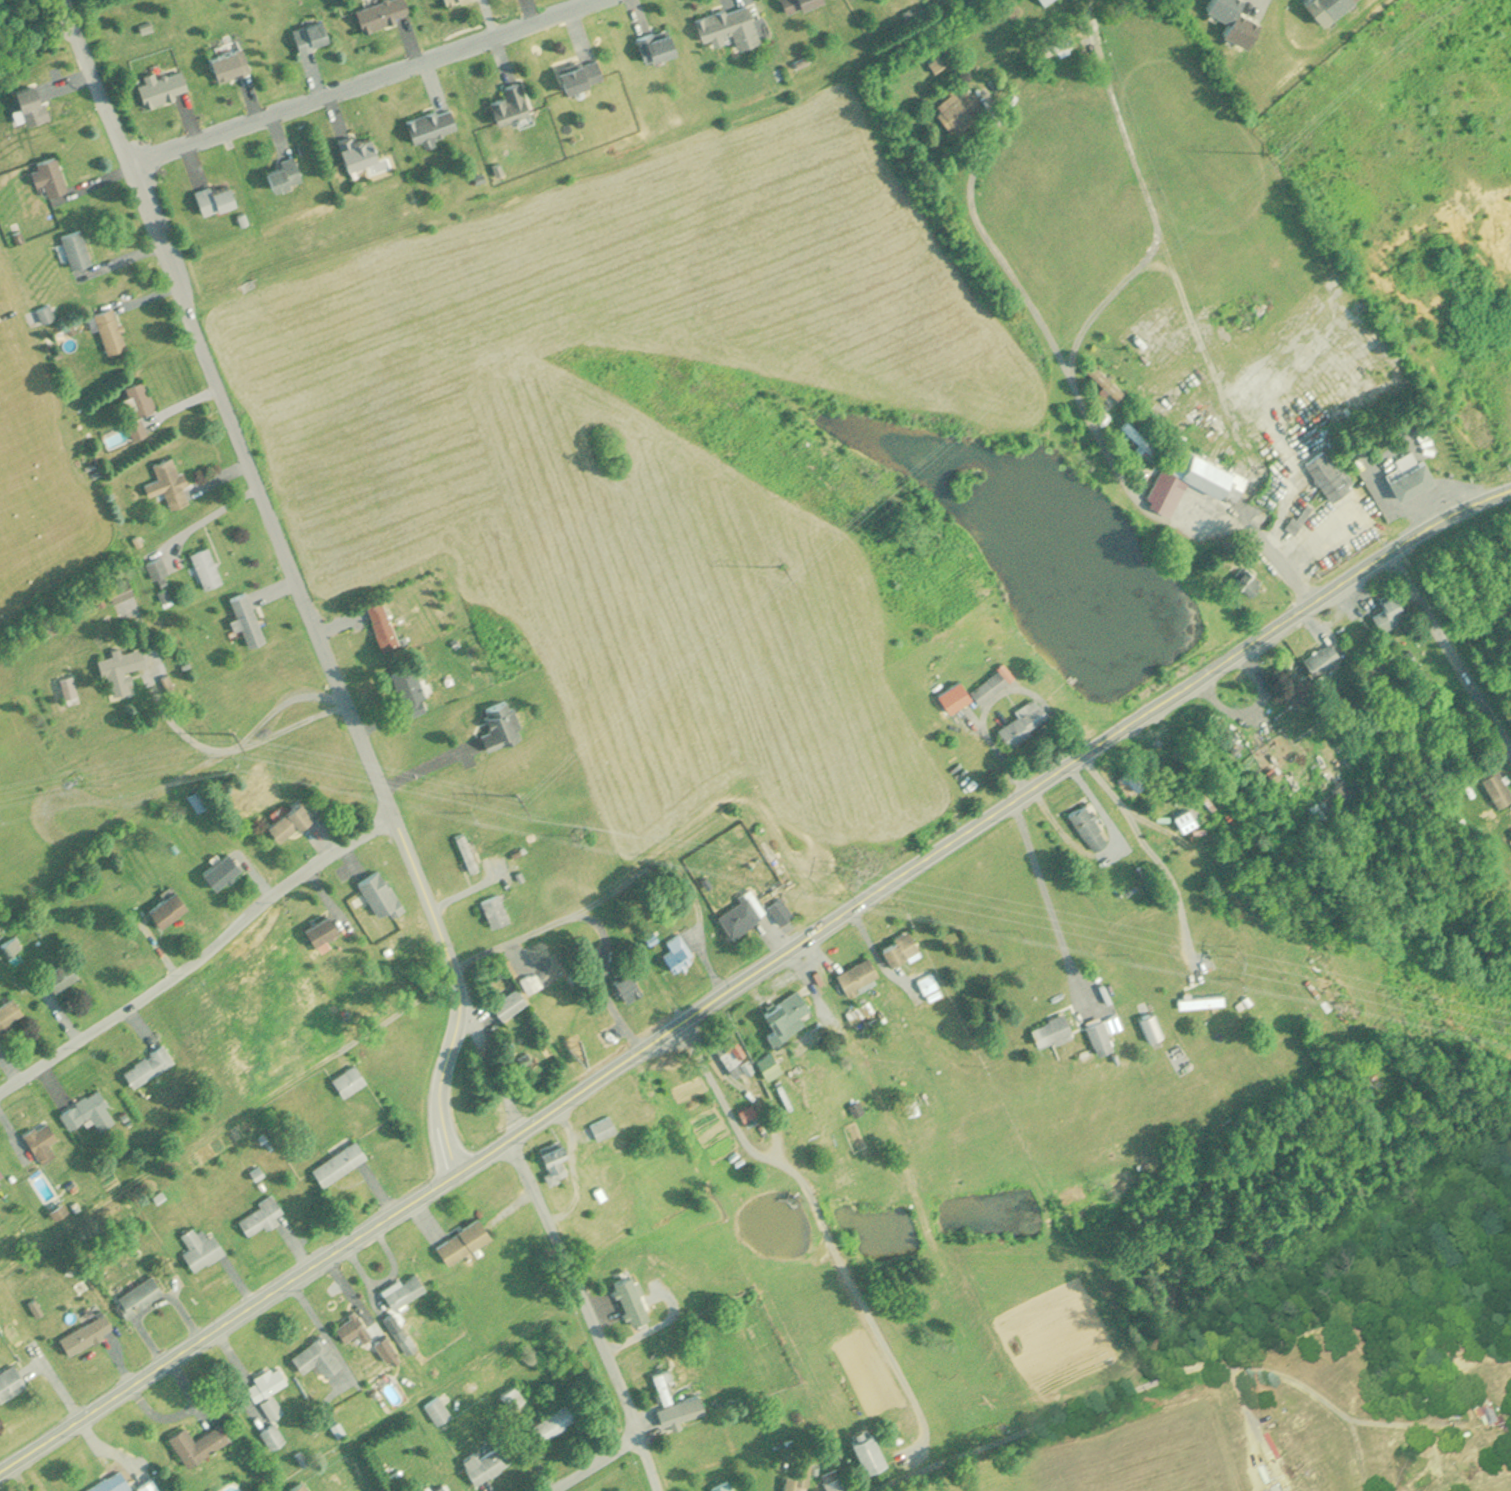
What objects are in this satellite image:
road: (359, 79)
power tower: (1265, 155)
road: (1086, 407)
power tower: (785, 566)
road: (298, 580)
road: (1453, 643)
road: (1001, 691)
power tower: (230, 731)
road: (233, 749)
power tower: (519, 794)
road: (1105, 814)
road: (1153, 851)
power tower: (843, 864)
road: (1052, 905)
road: (592, 916)
power tower: (1239, 950)
road: (877, 957)
road: (202, 961)
road: (752, 976)
road: (399, 1014)
road: (494, 1067)
road: (823, 1226)
road: (575, 1284)
road: (1100, 1400)
road: (1404, 1421)
road: (1358, 1444)
road: (651, 1460)
road: (596, 1463)

